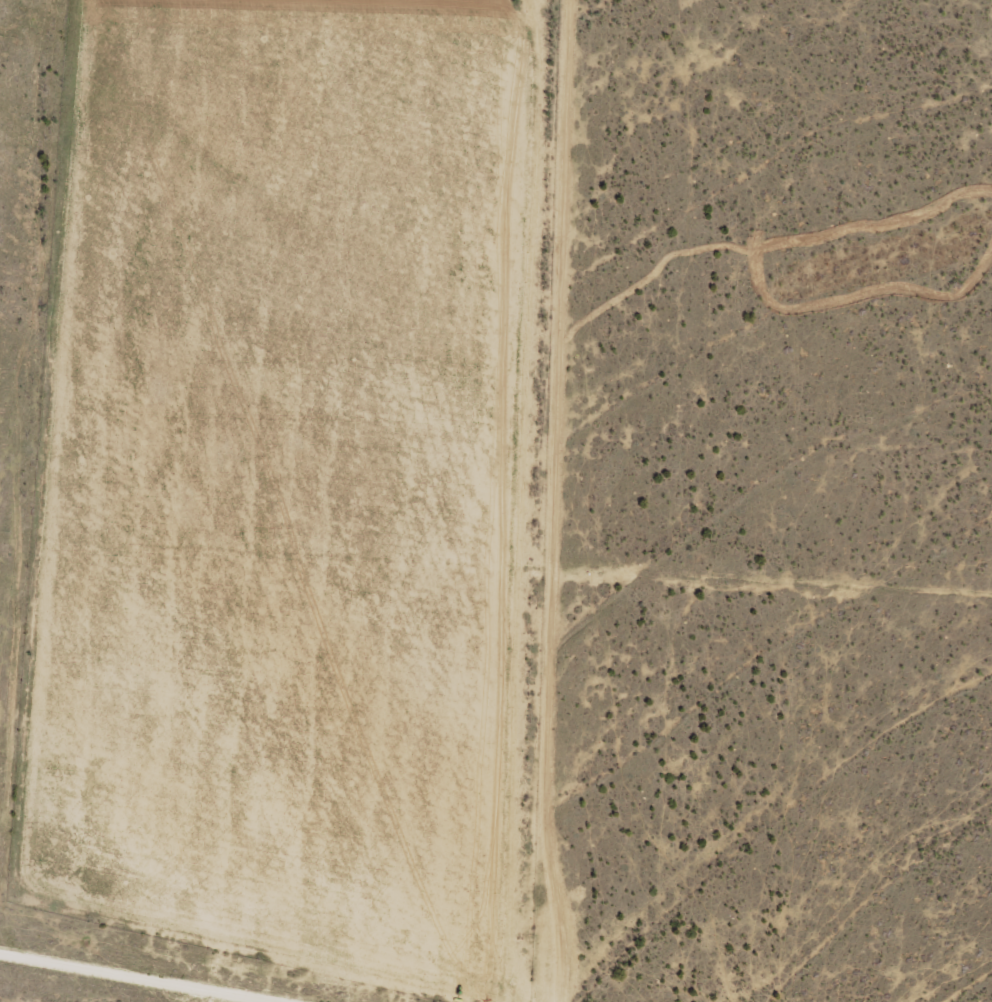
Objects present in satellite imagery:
road: (137, 972)

